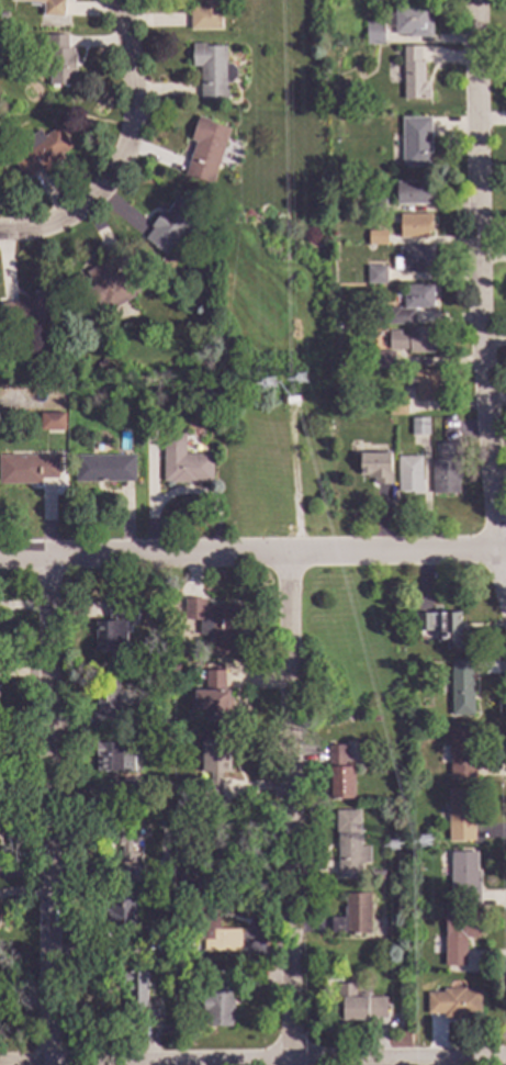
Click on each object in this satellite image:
building: (46, 7)
building: (204, 15)
building: (409, 22)
building: (373, 34)
building: (58, 63)
building: (212, 72)
building: (412, 75)
building: (414, 144)
building: (205, 150)
building: (41, 153)
road: (130, 158)
building: (412, 194)
building: (375, 206)
building: (224, 217)
building: (173, 227)
building: (414, 227)
building: (376, 238)
building: (414, 260)
building: (375, 277)
building: (110, 288)
building: (408, 306)
building: (31, 311)
road: (484, 325)
building: (412, 341)
building: (384, 359)
building: (100, 365)
building: (63, 375)
power tower: (303, 381)
power tower: (271, 384)
building: (424, 385)
building: (396, 407)
building: (50, 422)
building: (419, 428)
building: (183, 463)
building: (375, 469)
building: (26, 470)
building: (103, 470)
building: (446, 471)
building: (408, 475)
road: (252, 554)
building: (213, 626)
building: (440, 628)
building: (112, 630)
building: (172, 673)
building: (461, 690)
building: (211, 698)
building: (105, 702)
building: (417, 737)
building: (461, 753)
building: (108, 759)
building: (213, 767)
building: (338, 775)
building: (130, 793)
road: (286, 809)
road: (45, 810)
building: (460, 816)
building: (122, 837)
power tower: (426, 843)
building: (348, 845)
power tower: (396, 848)
building: (131, 874)
building: (379, 875)
building: (464, 878)
building: (120, 916)
building: (352, 917)
building: (436, 918)
building: (211, 923)
building: (458, 937)
building: (154, 938)
building: (0, 978)
building: (136, 991)
building: (220, 998)
building: (453, 1005)
building: (356, 1006)
building: (149, 1018)
road: (252, 1058)

